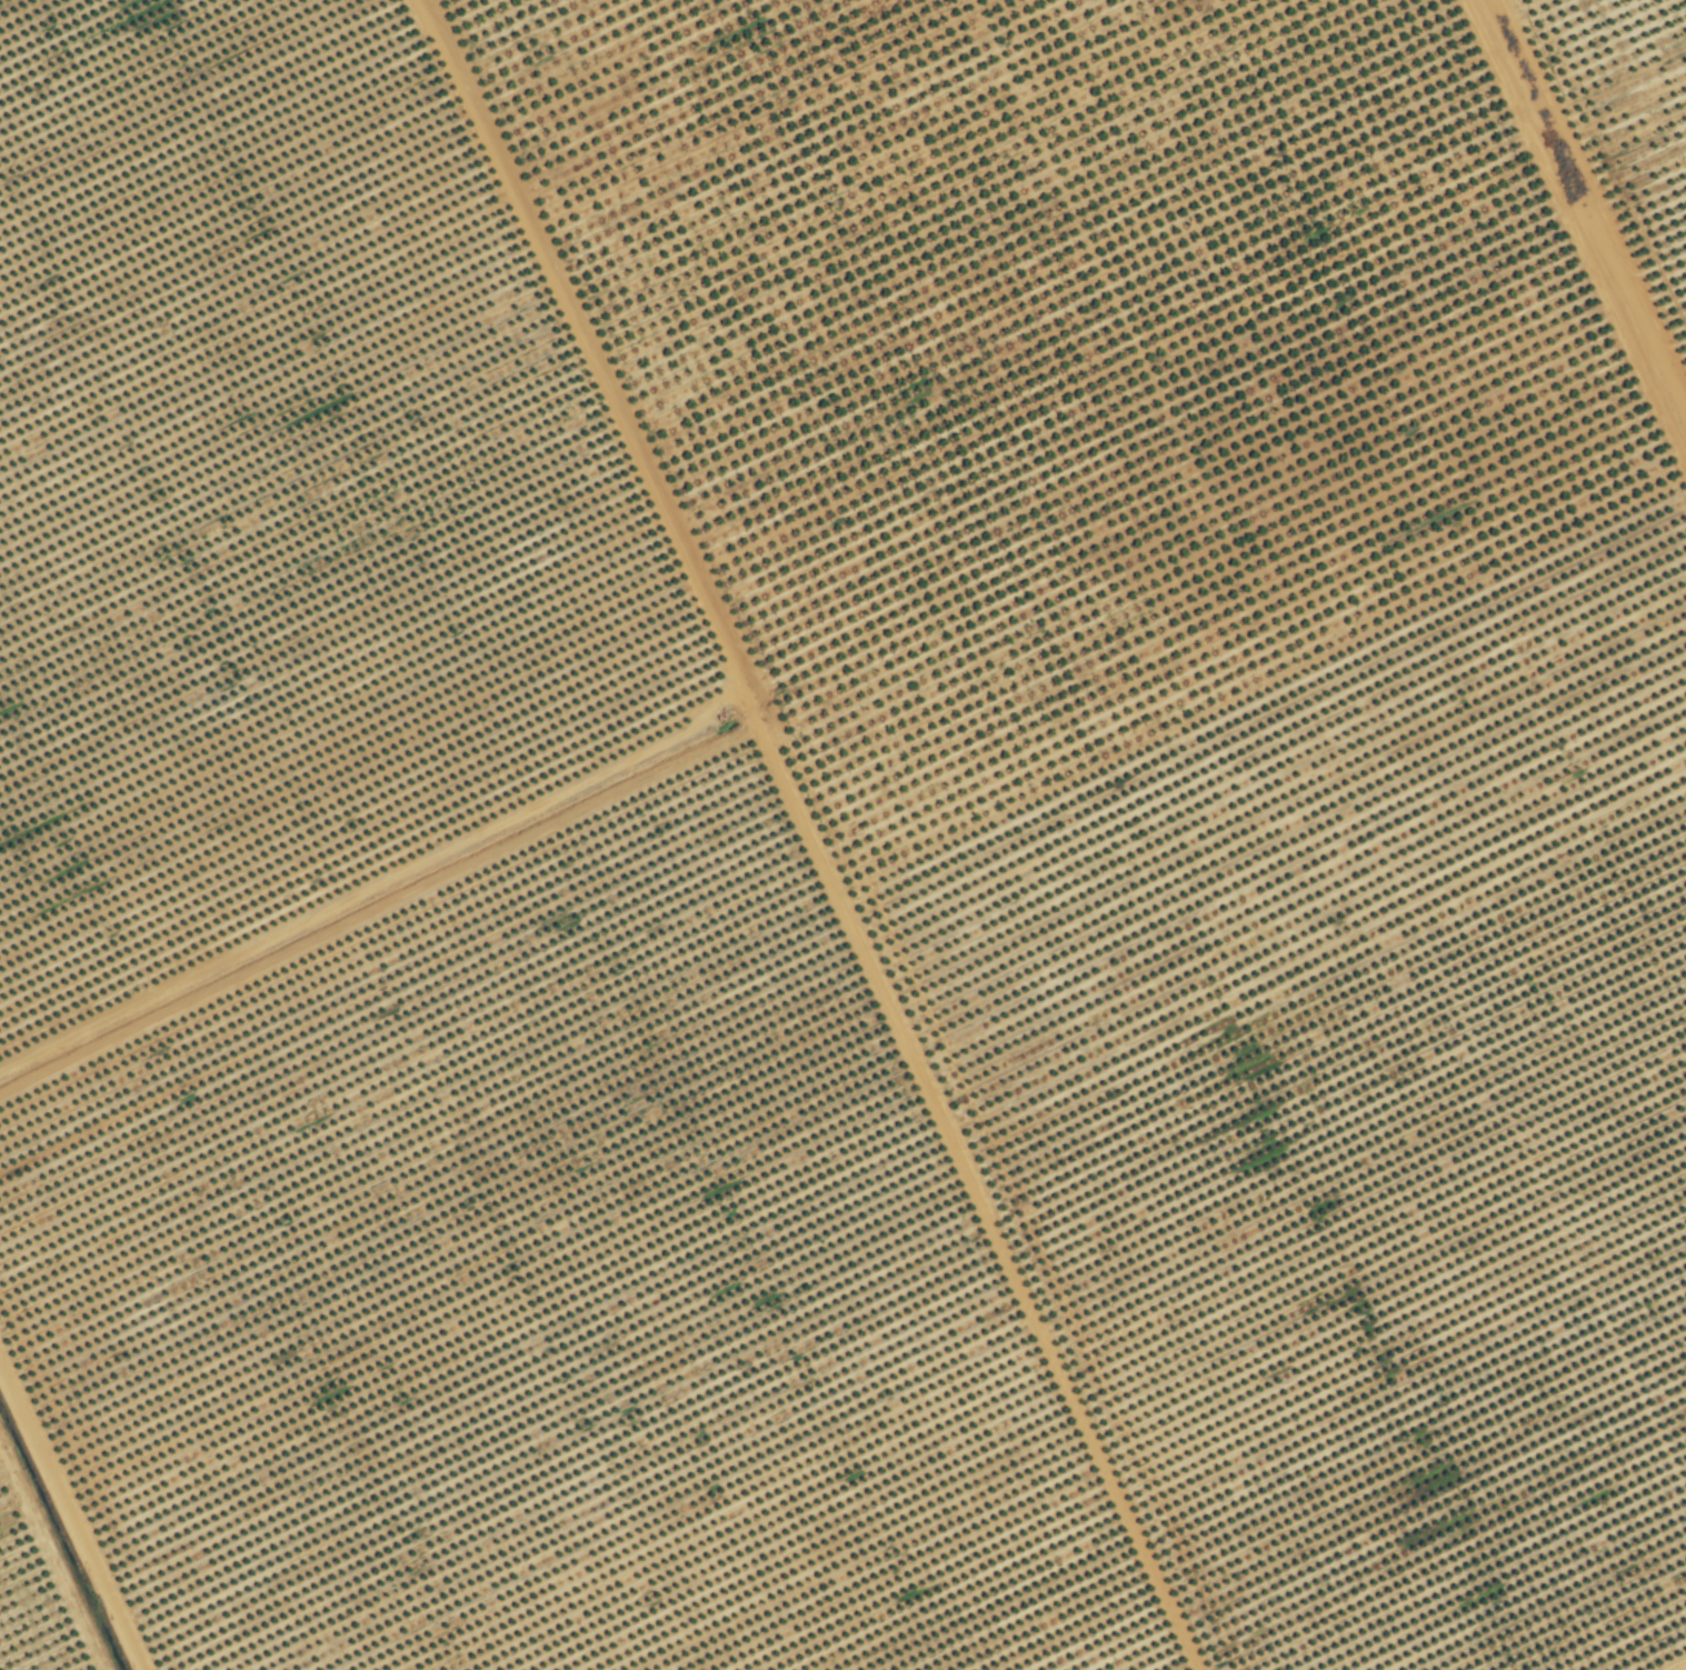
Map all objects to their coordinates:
road: (1569, 242)
road: (752, 838)
road: (60, 1553)

